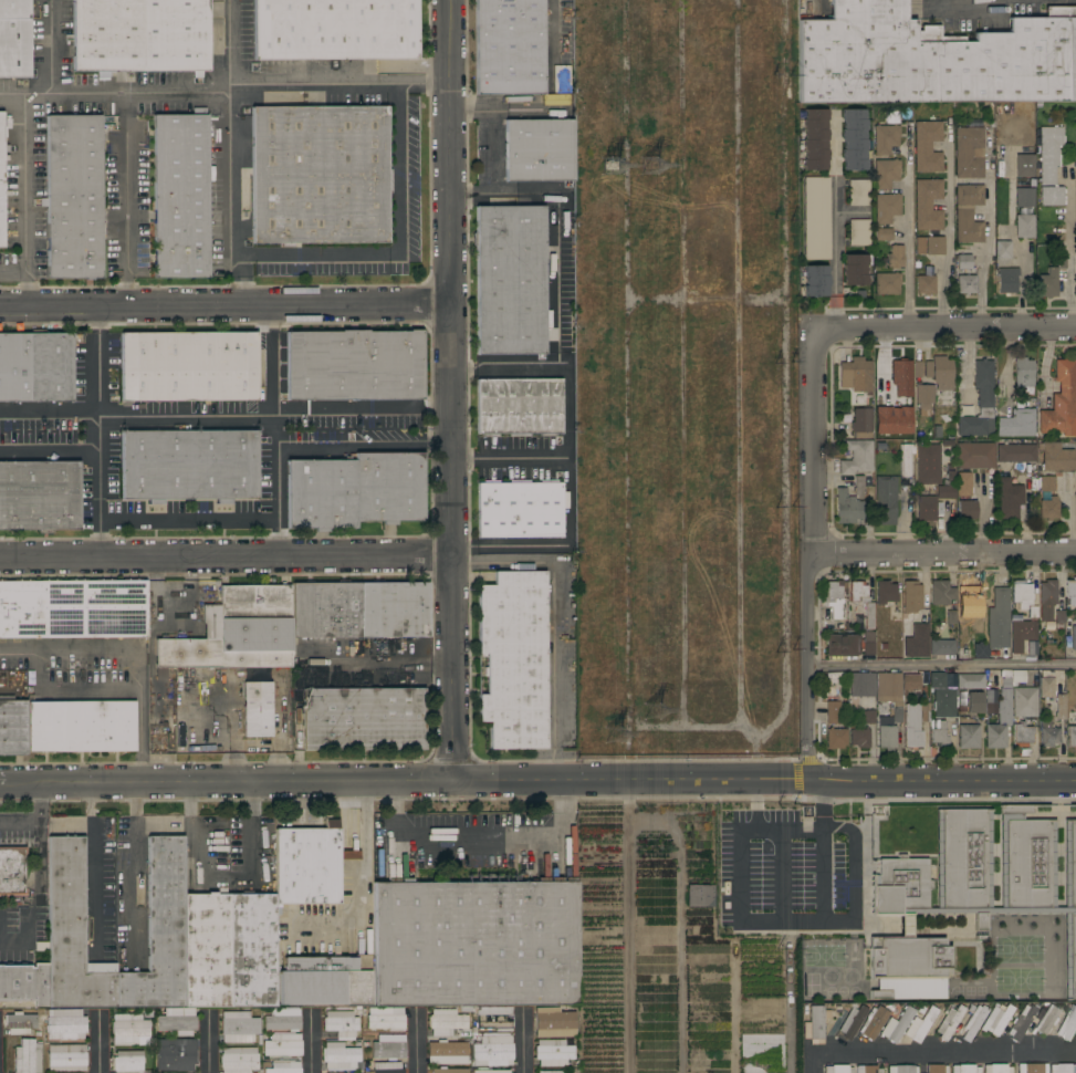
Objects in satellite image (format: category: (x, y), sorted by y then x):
road: (969, 4)
building: (812, 9)
road: (555, 25)
building: (334, 29)
building: (140, 35)
building: (14, 39)
road: (230, 48)
building: (510, 48)
road: (50, 50)
building: (932, 59)
road: (229, 100)
building: (556, 100)
road: (472, 108)
road: (523, 110)
building: (890, 117)
building: (973, 122)
building: (991, 124)
building: (885, 138)
building: (814, 139)
building: (854, 140)
building: (927, 147)
building: (539, 149)
building: (968, 152)
power tower: (613, 163)
building: (1024, 166)
building: (1049, 166)
power tower: (655, 168)
road: (492, 169)
building: (885, 174)
building: (320, 175)
building: (1, 181)
building: (858, 192)
building: (969, 195)
building: (180, 196)
building: (73, 197)
building: (1024, 197)
road: (23, 204)
road: (125, 204)
building: (927, 205)
road: (228, 208)
road: (853, 211)
building: (886, 215)
building: (816, 218)
road: (835, 220)
road: (949, 226)
building: (1024, 226)
building: (968, 227)
road: (909, 229)
building: (858, 232)
road: (989, 236)
building: (897, 239)
building: (920, 246)
building: (934, 246)
road: (398, 247)
road: (1070, 249)
road: (852, 250)
building: (1002, 250)
building: (895, 257)
building: (963, 262)
building: (855, 269)
building: (1051, 279)
building: (510, 280)
building: (1006, 280)
building: (814, 282)
building: (887, 283)
building: (924, 284)
building: (965, 284)
road: (227, 309)
road: (946, 331)
road: (503, 363)
building: (354, 365)
building: (188, 366)
building: (35, 367)
road: (268, 367)
building: (917, 368)
building: (901, 371)
building: (940, 372)
building: (1023, 372)
building: (855, 375)
road: (453, 389)
road: (566, 390)
building: (887, 397)
building: (923, 398)
building: (1061, 402)
building: (980, 403)
building: (519, 406)
road: (49, 409)
building: (949, 413)
road: (187, 416)
building: (891, 419)
building: (1017, 421)
building: (861, 423)
road: (366, 425)
road: (97, 431)
building: (938, 434)
road: (49, 451)
building: (1015, 452)
building: (975, 456)
building: (856, 457)
building: (1056, 457)
road: (509, 458)
building: (906, 459)
road: (278, 463)
building: (928, 463)
building: (189, 465)
building: (963, 483)
building: (1047, 483)
building: (858, 486)
building: (355, 491)
building: (944, 492)
building: (39, 496)
building: (1009, 497)
building: (885, 500)
building: (926, 506)
building: (848, 507)
building: (1048, 509)
building: (519, 510)
building: (968, 510)
road: (188, 520)
road: (279, 529)
road: (942, 553)
road: (809, 554)
road: (226, 555)
building: (1070, 591)
building: (857, 592)
building: (885, 593)
building: (941, 593)
building: (1021, 594)
building: (911, 596)
building: (835, 598)
building: (1047, 598)
building: (972, 602)
building: (73, 608)
building: (326, 610)
building: (394, 610)
road: (194, 613)
road: (557, 615)
building: (869, 616)
building: (950, 616)
building: (1059, 619)
building: (999, 621)
road: (150, 632)
building: (237, 632)
building: (1022, 634)
building: (1074, 639)
building: (917, 642)
building: (867, 643)
building: (842, 645)
building: (941, 647)
building: (980, 650)
road: (134, 653)
building: (513, 658)
road: (943, 665)
road: (317, 667)
building: (1006, 673)
building: (835, 675)
building: (937, 680)
building: (910, 681)
building: (970, 681)
building: (1048, 684)
building: (861, 685)
road: (71, 691)
building: (889, 692)
building: (1024, 701)
building: (943, 702)
building: (974, 702)
power tower: (660, 707)
building: (1061, 707)
building: (257, 709)
building: (833, 712)
building: (869, 716)
building: (1000, 718)
building: (363, 719)
building: (915, 723)
building: (12, 725)
building: (80, 726)
power tower: (616, 733)
building: (1047, 733)
building: (886, 735)
building: (1022, 735)
building: (939, 736)
building: (968, 736)
building: (859, 737)
building: (835, 738)
building: (1072, 738)
road: (537, 779)
road: (38, 823)
road: (478, 846)
road: (38, 858)
building: (309, 866)
building: (12, 871)
road: (133, 871)
building: (984, 874)
road: (221, 881)
road: (365, 893)
building: (699, 895)
road: (853, 895)
road: (737, 919)
road: (627, 926)
road: (679, 928)
building: (159, 933)
building: (72, 934)
road: (12, 941)
building: (476, 944)
building: (207, 950)
building: (253, 950)
building: (908, 967)
building: (323, 979)
building: (24, 982)
building: (921, 1009)
building: (385, 1018)
building: (493, 1018)
building: (282, 1020)
building: (996, 1020)
building: (1046, 1020)
building: (176, 1021)
building: (852, 1021)
building: (973, 1021)
building: (446, 1022)
building: (553, 1022)
building: (873, 1022)
building: (949, 1022)
building: (1021, 1022)
building: (20, 1023)
building: (341, 1023)
building: (64, 1024)
building: (815, 1024)
building: (897, 1024)
building: (921, 1024)
building: (1067, 1025)
building: (239, 1027)
building: (128, 1029)
building: (36, 1033)
building: (474, 1033)
building: (456, 1034)
building: (468, 1034)
building: (261, 1039)
road: (310, 1042)
road: (524, 1042)
road: (101, 1043)
road: (417, 1043)
road: (209, 1044)
building: (282, 1044)
building: (388, 1046)
building: (492, 1051)
building: (447, 1052)
building: (552, 1052)
road: (943, 1053)
building: (175, 1054)
building: (339, 1055)
building: (28, 1056)
building: (66, 1058)
building: (238, 1060)
building: (127, 1062)
building: (265, 1064)
road: (812, 1064)
building: (283, 1067)
building: (387, 1067)
building: (1032, 1067)
building: (837, 1069)
building: (867, 1069)
building: (901, 1069)
building: (937, 1069)
building: (965, 1069)
building: (996, 1069)
building: (1063, 1069)
building: (260, 1071)
building: (449, 1071)
building: (492, 1071)
building: (550, 1072)

